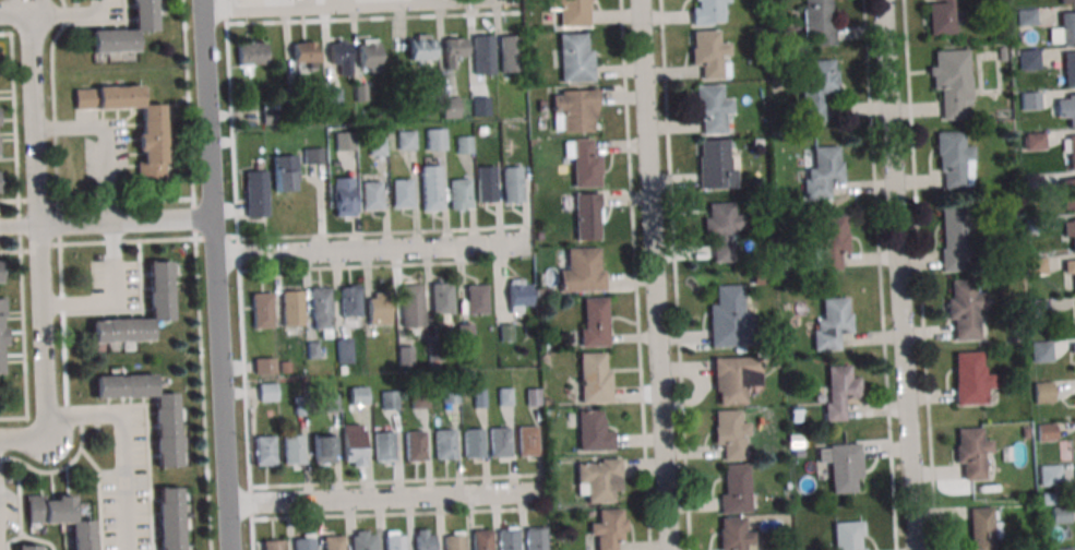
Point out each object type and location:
building: (1066, 1)
road: (202, 5)
road: (311, 5)
building: (572, 12)
building: (710, 12)
road: (15, 15)
road: (70, 15)
building: (1026, 15)
building: (941, 16)
road: (372, 17)
building: (817, 21)
road: (105, 22)
building: (124, 29)
building: (1063, 29)
building: (420, 48)
building: (453, 49)
building: (304, 52)
building: (510, 52)
building: (709, 52)
building: (483, 53)
building: (250, 55)
building: (341, 55)
building: (368, 55)
building: (575, 57)
building: (1028, 59)
building: (1068, 67)
building: (951, 81)
building: (817, 87)
building: (360, 93)
building: (333, 96)
building: (1029, 100)
building: (450, 107)
building: (480, 107)
building: (713, 107)
building: (574, 109)
building: (1066, 109)
building: (268, 111)
road: (208, 113)
road: (35, 119)
building: (406, 139)
building: (435, 139)
building: (344, 140)
road: (105, 141)
building: (1034, 141)
building: (463, 143)
building: (151, 145)
building: (377, 145)
building: (1071, 151)
building: (313, 155)
road: (8, 158)
building: (954, 160)
building: (583, 162)
building: (717, 164)
building: (825, 168)
building: (285, 172)
building: (486, 183)
building: (513, 183)
building: (1031, 184)
building: (431, 188)
building: (402, 192)
building: (258, 193)
building: (459, 193)
building: (1068, 193)
building: (371, 194)
building: (344, 196)
road: (28, 201)
road: (124, 201)
road: (57, 202)
building: (587, 216)
road: (126, 219)
road: (19, 224)
building: (1032, 225)
building: (722, 229)
building: (1068, 230)
road: (361, 232)
road: (19, 234)
road: (214, 235)
building: (954, 238)
building: (829, 241)
road: (110, 242)
road: (371, 250)
road: (13, 251)
building: (1035, 264)
road: (371, 265)
building: (1070, 266)
building: (583, 270)
road: (239, 274)
road: (653, 274)
building: (0, 275)
road: (195, 275)
road: (635, 275)
road: (674, 275)
road: (879, 275)
road: (897, 275)
road: (919, 275)
building: (158, 289)
building: (519, 295)
building: (441, 297)
road: (115, 298)
building: (476, 299)
building: (350, 301)
building: (291, 307)
building: (410, 307)
building: (964, 307)
building: (1038, 307)
building: (320, 309)
building: (379, 309)
road: (135, 310)
building: (261, 310)
building: (727, 315)
road: (41, 320)
building: (593, 321)
building: (832, 323)
building: (505, 331)
building: (466, 332)
building: (1, 338)
building: (1072, 347)
building: (313, 350)
building: (344, 350)
building: (1040, 350)
building: (435, 352)
building: (405, 356)
building: (263, 364)
building: (285, 367)
building: (595, 376)
building: (734, 378)
building: (969, 378)
road: (223, 380)
building: (267, 391)
building: (838, 391)
building: (1042, 392)
building: (358, 394)
building: (450, 394)
building: (504, 396)
building: (533, 396)
building: (479, 398)
building: (389, 399)
building: (419, 399)
building: (332, 402)
building: (301, 406)
building: (593, 431)
building: (1044, 431)
building: (166, 432)
building: (731, 434)
road: (147, 437)
building: (526, 440)
road: (31, 442)
road: (123, 442)
building: (473, 442)
building: (499, 442)
building: (355, 443)
building: (444, 443)
building: (414, 445)
building: (382, 446)
building: (322, 449)
building: (264, 450)
building: (292, 450)
building: (971, 451)
building: (841, 465)
road: (44, 471)
road: (98, 473)
building: (1048, 475)
building: (597, 478)
road: (394, 480)
building: (734, 489)
road: (384, 497)
building: (1050, 499)
road: (20, 510)
road: (396, 513)
building: (1061, 516)
building: (60, 517)
building: (169, 518)
road: (230, 527)
building: (982, 527)
building: (608, 528)
building: (733, 534)
building: (847, 535)
building: (506, 538)
building: (535, 538)
road: (39, 539)
building: (423, 539)
building: (481, 539)
building: (362, 540)
building: (394, 540)
building: (453, 540)
building: (303, 541)
building: (333, 542)
building: (272, 545)
building: (27, 547)
building: (1064, 549)

